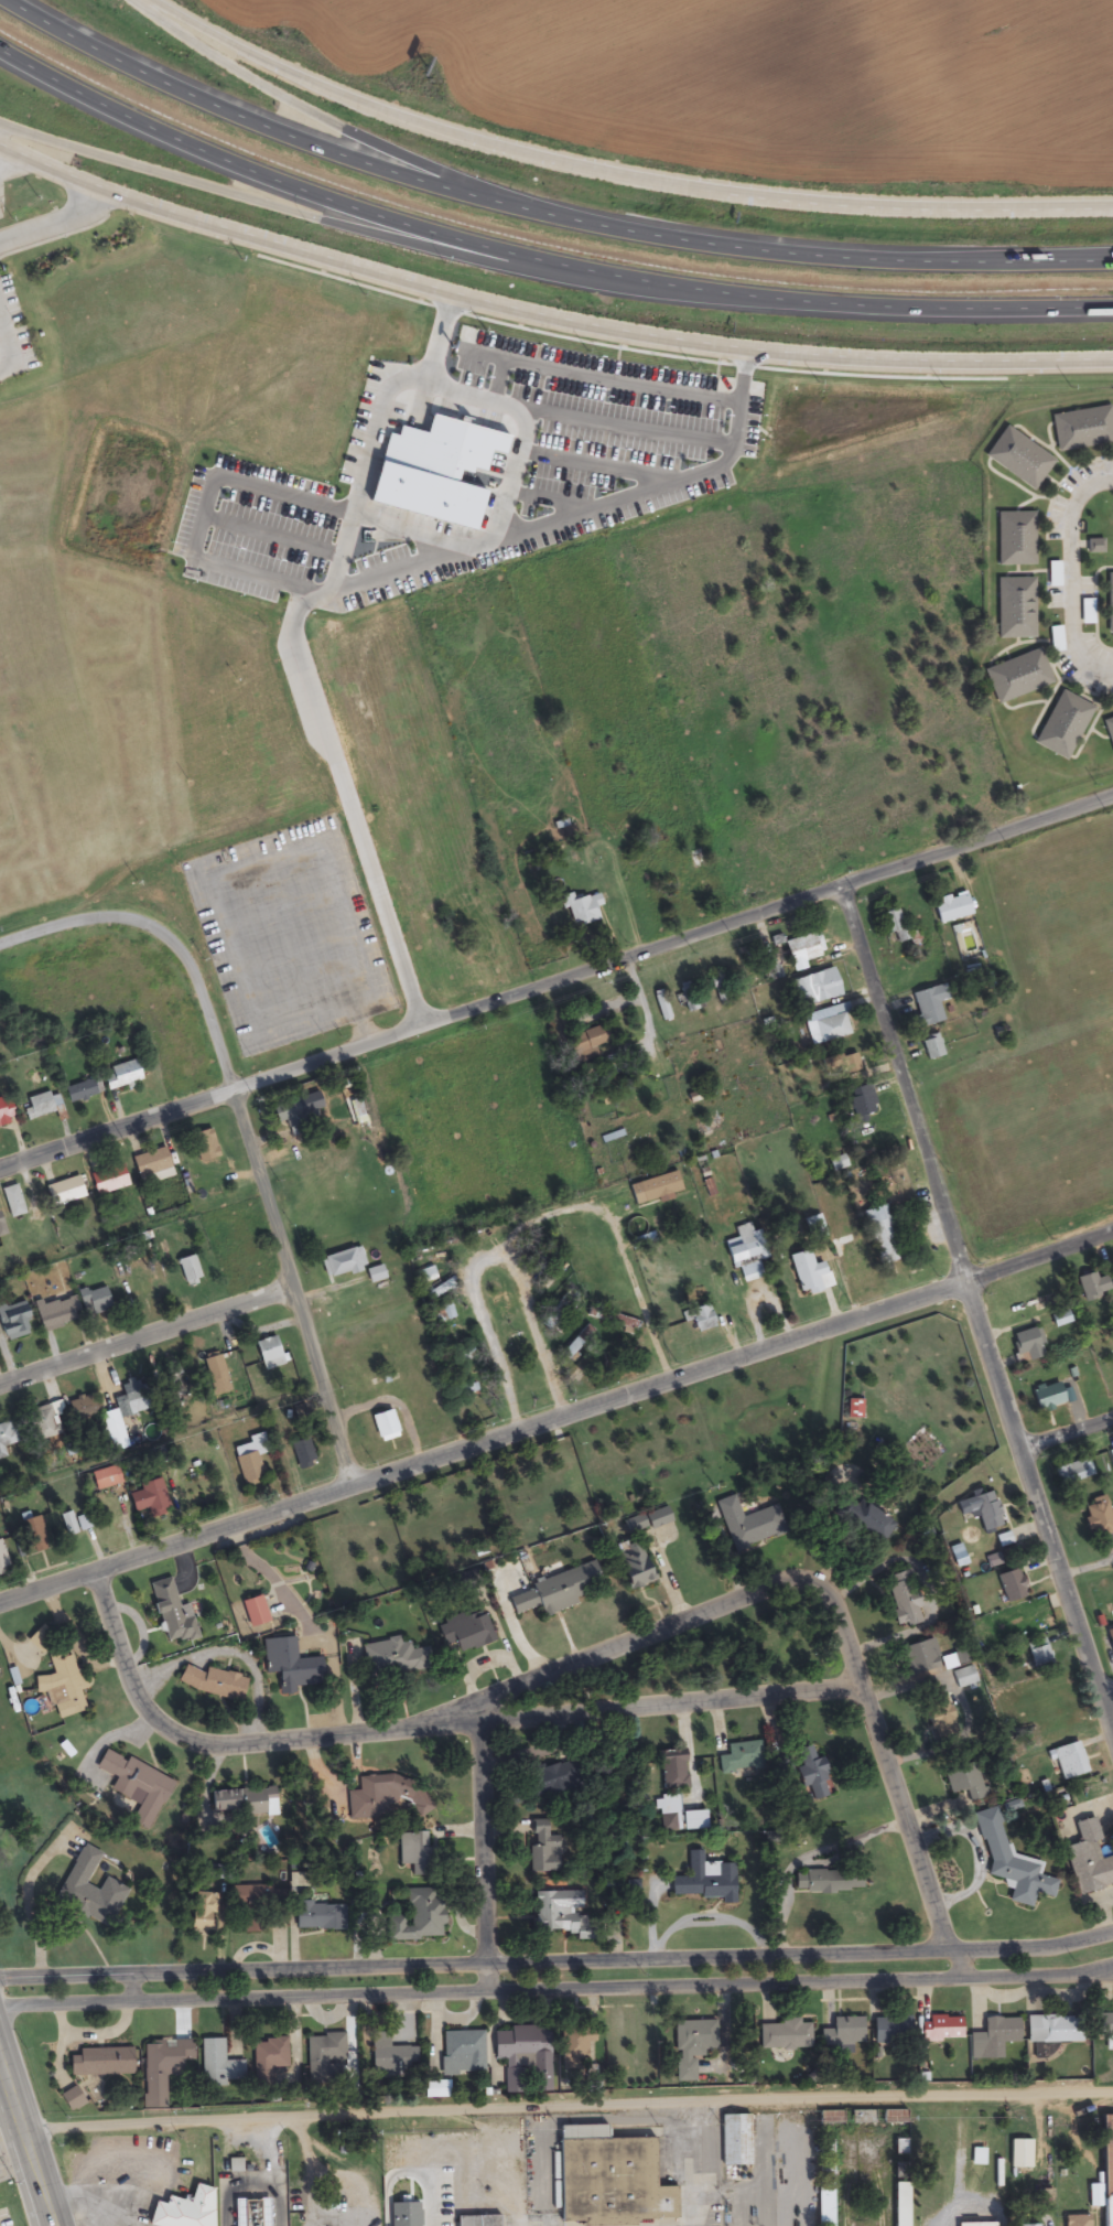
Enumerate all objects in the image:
road: (328, 120)
road: (263, 127)
road: (0, 150)
road: (613, 176)
road: (268, 180)
road: (274, 207)
road: (56, 225)
road: (824, 258)
road: (832, 305)
road: (544, 319)
road: (0, 333)
road: (8, 353)
building: (1083, 419)
building: (1023, 449)
building: (1017, 529)
building: (1093, 547)
building: (1052, 574)
road: (1071, 578)
building: (1110, 593)
building: (1017, 599)
building: (1019, 667)
building: (1065, 717)
building: (1109, 721)
building: (685, 885)
building: (950, 907)
building: (892, 924)
road: (54, 933)
building: (484, 945)
building: (801, 953)
building: (771, 972)
road: (556, 980)
building: (718, 988)
building: (818, 989)
building: (765, 994)
building: (691, 1001)
building: (927, 1006)
building: (660, 1007)
building: (826, 1024)
building: (585, 1045)
building: (930, 1047)
building: (845, 1065)
building: (121, 1075)
building: (82, 1090)
building: (861, 1105)
building: (40, 1106)
building: (6, 1110)
building: (291, 1112)
building: (203, 1146)
building: (149, 1163)
road: (260, 1176)
building: (106, 1180)
building: (652, 1190)
building: (63, 1192)
building: (12, 1202)
building: (882, 1235)
building: (744, 1254)
road: (488, 1255)
building: (342, 1262)
building: (188, 1269)
building: (808, 1273)
building: (1091, 1286)
building: (433, 1293)
building: (93, 1301)
building: (561, 1305)
road: (976, 1310)
building: (444, 1313)
building: (55, 1314)
building: (700, 1318)
building: (13, 1321)
road: (147, 1334)
building: (1024, 1345)
building: (268, 1354)
building: (215, 1375)
building: (174, 1384)
building: (1046, 1397)
building: (132, 1398)
road: (555, 1417)
building: (110, 1420)
building: (44, 1423)
building: (383, 1426)
road: (1066, 1426)
building: (6, 1441)
road: (161, 1441)
building: (301, 1454)
building: (1112, 1455)
building: (247, 1466)
building: (1073, 1472)
building: (105, 1478)
building: (148, 1499)
building: (982, 1509)
building: (864, 1519)
building: (646, 1521)
building: (74, 1524)
building: (747, 1524)
building: (32, 1536)
building: (1003, 1540)
building: (2, 1560)
building: (631, 1563)
building: (1009, 1585)
building: (554, 1590)
building: (903, 1599)
building: (253, 1612)
building: (171, 1614)
road: (666, 1627)
building: (464, 1631)
building: (1038, 1655)
building: (920, 1657)
building: (393, 1658)
building: (289, 1665)
building: (962, 1678)
building: (212, 1684)
building: (62, 1686)
road: (1106, 1695)
building: (937, 1710)
road: (579, 1713)
building: (739, 1757)
building: (1068, 1761)
building: (663, 1772)
building: (809, 1773)
building: (551, 1778)
building: (965, 1782)
building: (133, 1785)
building: (374, 1796)
building: (230, 1802)
building: (678, 1815)
building: (543, 1847)
building: (414, 1853)
road: (480, 1858)
building: (1088, 1860)
building: (1009, 1862)
building: (704, 1880)
building: (826, 1881)
building: (87, 1889)
building: (257, 1896)
building: (202, 1911)
building: (556, 1912)
building: (318, 1916)
building: (415, 1918)
road: (556, 1961)
road: (132, 1989)
road: (556, 1990)
building: (1104, 2025)
building: (940, 2029)
building: (889, 2030)
building: (1047, 2030)
building: (842, 2032)
building: (784, 2034)
building: (992, 2037)
building: (574, 2044)
building: (691, 2045)
building: (461, 2053)
building: (522, 2055)
building: (323, 2056)
building: (390, 2056)
building: (268, 2058)
building: (99, 2063)
building: (218, 2065)
building: (161, 2068)
building: (71, 2099)
road: (570, 2110)
building: (894, 2116)
road: (26, 2131)
building: (732, 2140)
building: (899, 2147)
building: (1018, 2154)
building: (975, 2158)
building: (824, 2171)
building: (899, 2171)
building: (1104, 2172)
building: (608, 2181)
building: (823, 2204)
building: (900, 2204)
building: (185, 2209)
building: (250, 2212)
road: (54, 2216)
road: (51, 2217)
building: (477, 2220)
building: (1074, 2220)
road: (57, 2225)
road: (57, 2225)
building: (974, 2225)
building: (1025, 2225)

